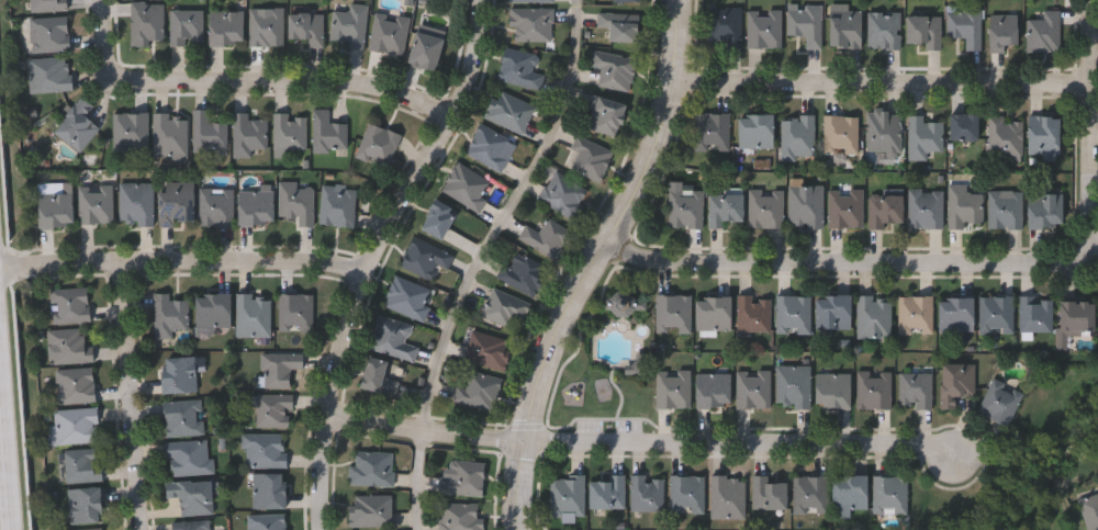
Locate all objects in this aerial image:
building: (531, 1)
building: (629, 1)
building: (49, 5)
building: (807, 23)
building: (148, 24)
building: (534, 24)
building: (966, 25)
building: (352, 26)
building: (621, 26)
building: (188, 27)
building: (226, 27)
building: (268, 27)
building: (307, 27)
building: (726, 27)
building: (845, 27)
building: (765, 30)
building: (886, 31)
building: (926, 31)
building: (1004, 32)
building: (391, 33)
building: (1046, 33)
building: (52, 35)
road: (111, 38)
building: (426, 52)
building: (522, 69)
building: (616, 70)
building: (51, 76)
road: (287, 92)
road: (1094, 92)
road: (885, 95)
building: (511, 112)
building: (606, 115)
building: (78, 126)
building: (964, 128)
building: (757, 132)
building: (132, 133)
building: (292, 133)
building: (714, 133)
building: (886, 133)
building: (210, 134)
building: (329, 134)
building: (251, 135)
building: (842, 135)
building: (1045, 135)
building: (172, 136)
building: (799, 137)
building: (926, 137)
building: (1007, 138)
building: (380, 146)
building: (492, 148)
building: (592, 159)
building: (469, 187)
building: (565, 195)
building: (299, 203)
building: (138, 204)
building: (177, 204)
building: (97, 205)
building: (257, 206)
building: (339, 206)
building: (56, 207)
building: (217, 207)
building: (686, 207)
building: (727, 207)
building: (807, 207)
building: (966, 207)
building: (766, 208)
building: (848, 208)
building: (928, 210)
building: (1007, 210)
building: (887, 211)
building: (1045, 211)
building: (439, 219)
road: (504, 219)
building: (548, 237)
road: (388, 258)
building: (427, 258)
road: (604, 266)
road: (188, 271)
building: (526, 274)
road: (852, 275)
building: (410, 298)
road: (225, 302)
building: (71, 305)
building: (506, 307)
building: (213, 312)
building: (834, 313)
building: (298, 314)
building: (675, 314)
building: (715, 314)
building: (755, 314)
building: (171, 315)
building: (795, 315)
building: (916, 315)
building: (1037, 315)
building: (255, 316)
building: (956, 316)
building: (997, 316)
building: (875, 318)
building: (1077, 318)
building: (395, 338)
building: (71, 347)
building: (490, 351)
building: (639, 368)
building: (280, 370)
building: (180, 375)
building: (378, 379)
building: (956, 384)
building: (77, 386)
building: (795, 387)
building: (674, 390)
building: (754, 390)
building: (481, 391)
building: (714, 391)
building: (874, 391)
building: (833, 392)
building: (917, 392)
road: (133, 401)
road: (9, 402)
building: (1001, 404)
building: (274, 411)
building: (184, 418)
building: (78, 426)
building: (266, 450)
road: (647, 451)
building: (191, 458)
building: (85, 465)
building: (373, 469)
building: (464, 478)
road: (416, 483)
building: (270, 490)
building: (770, 492)
building: (608, 493)
building: (648, 493)
building: (687, 494)
building: (810, 494)
building: (849, 494)
building: (890, 495)
building: (193, 496)
building: (568, 496)
building: (729, 496)
building: (87, 505)
building: (1089, 509)
building: (372, 510)
building: (461, 517)
building: (269, 522)
building: (192, 525)
building: (94, 529)

